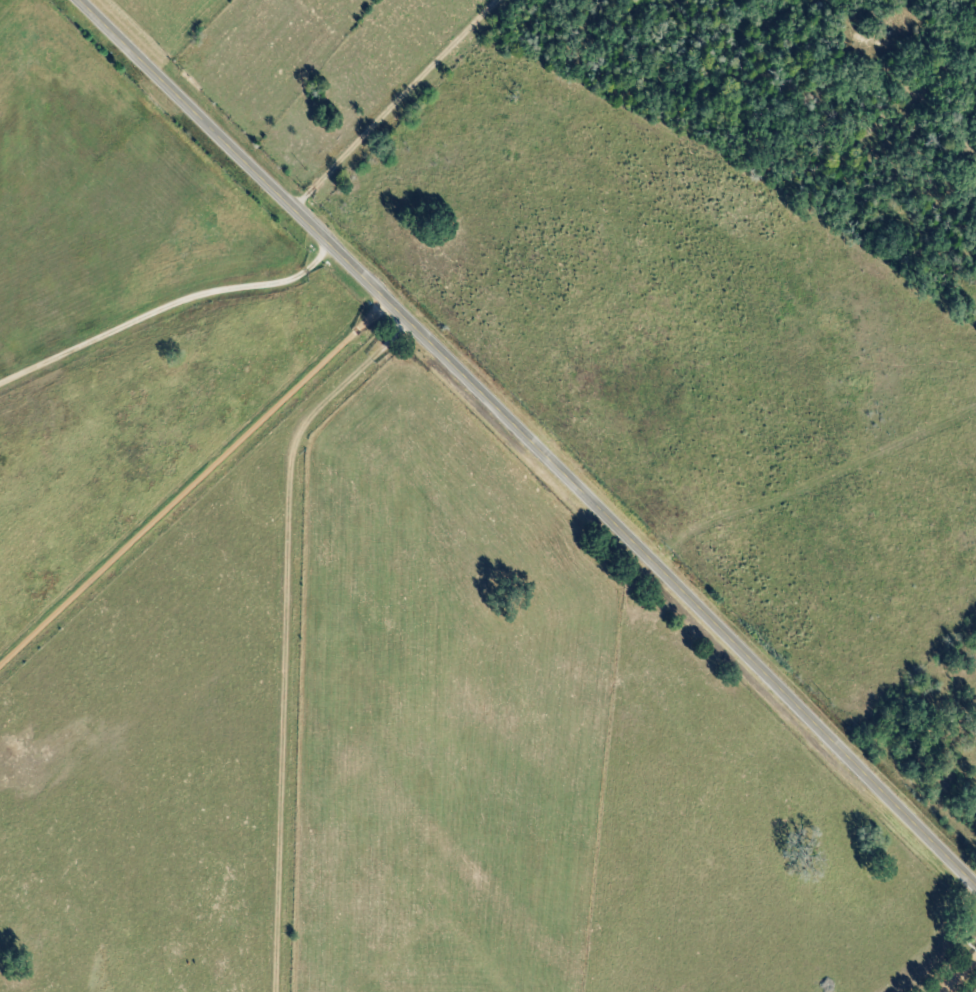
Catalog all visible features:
road: (401, 107)
road: (531, 437)
road: (814, 472)
road: (273, 609)

